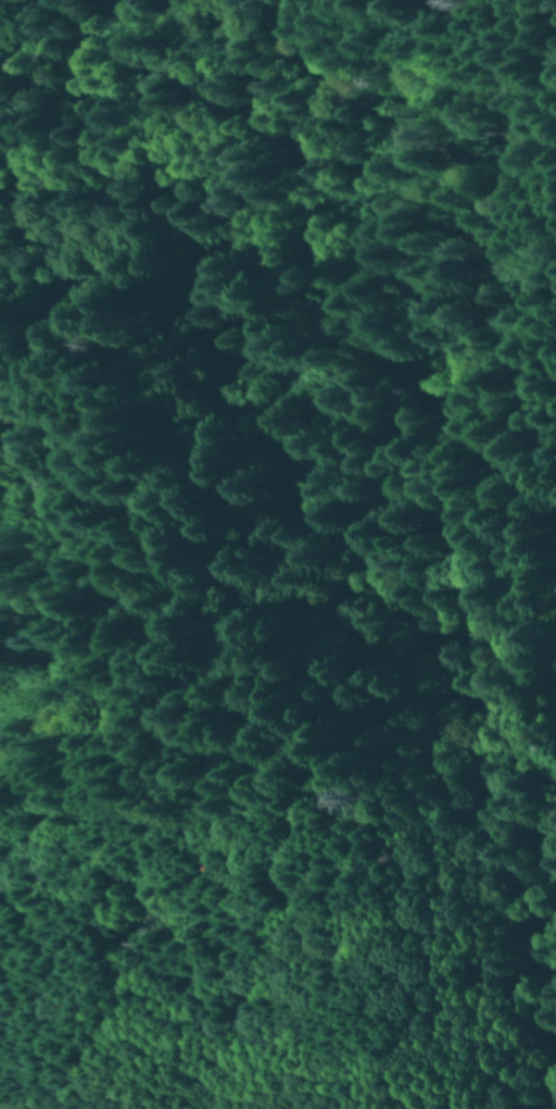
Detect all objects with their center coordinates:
road: (541, 21)

